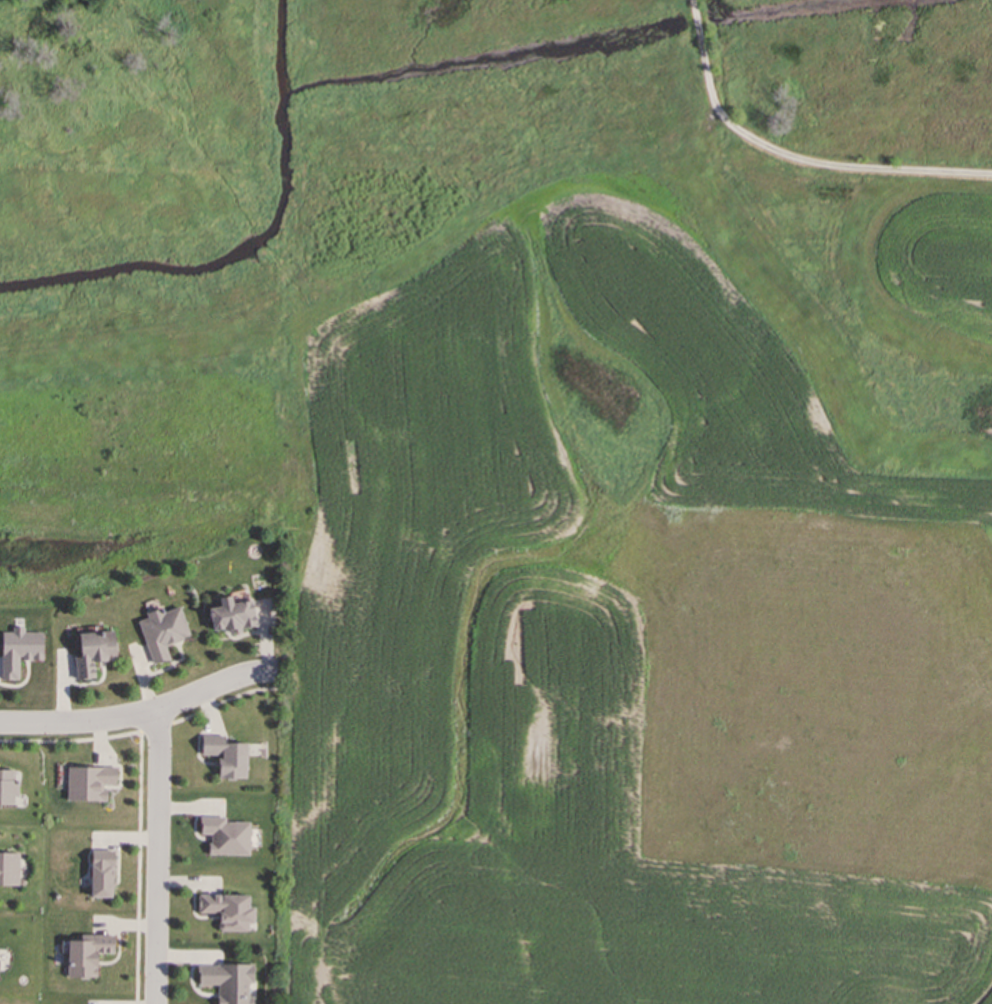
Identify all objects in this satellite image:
road: (791, 156)
crop: (651, 609)
building: (231, 614)
building: (161, 631)
building: (17, 649)
building: (92, 651)
road: (134, 720)
building: (224, 754)
building: (87, 782)
building: (8, 786)
building: (224, 835)
road: (155, 860)
building: (8, 867)
building: (101, 871)
building: (226, 909)
building: (88, 953)
building: (226, 981)

